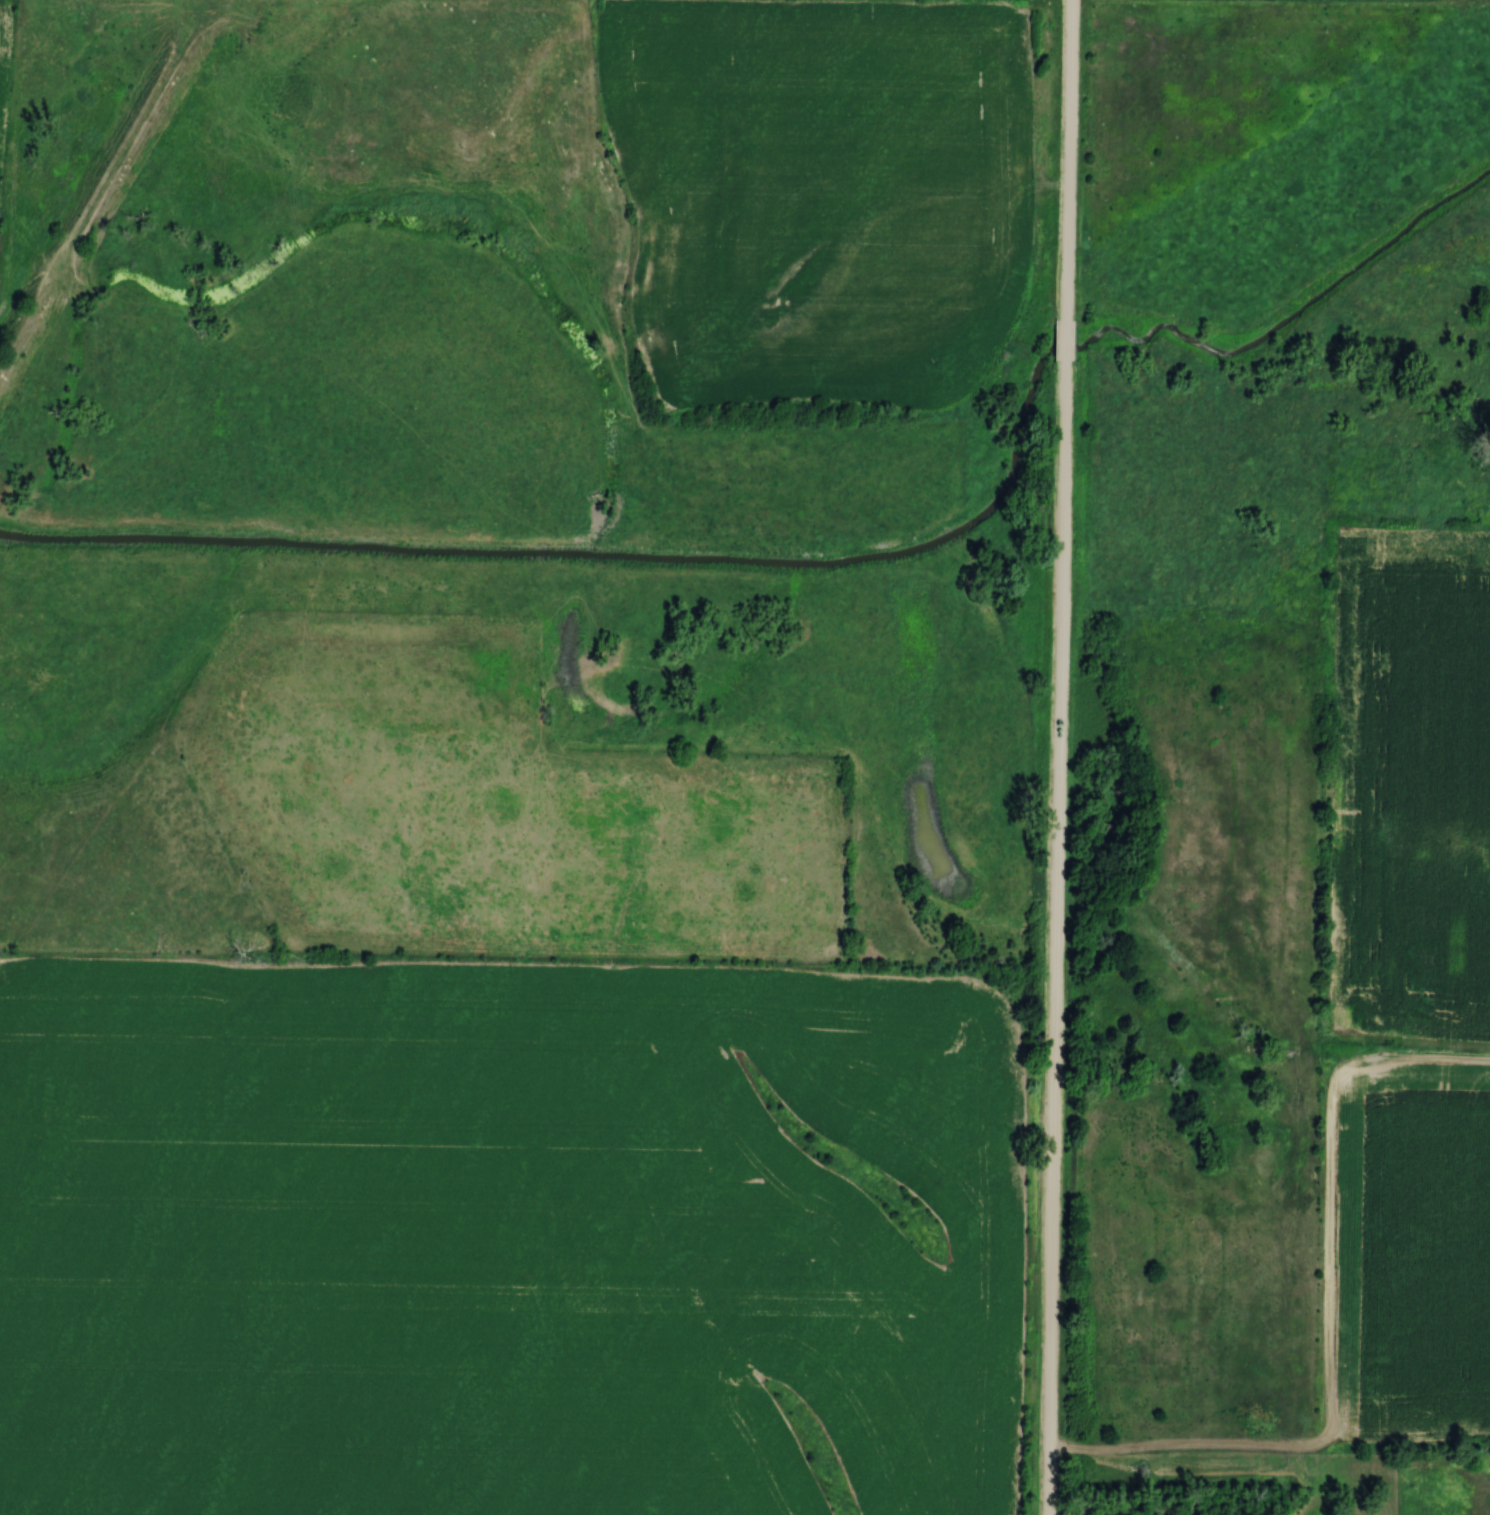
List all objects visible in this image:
road: (1057, 757)

